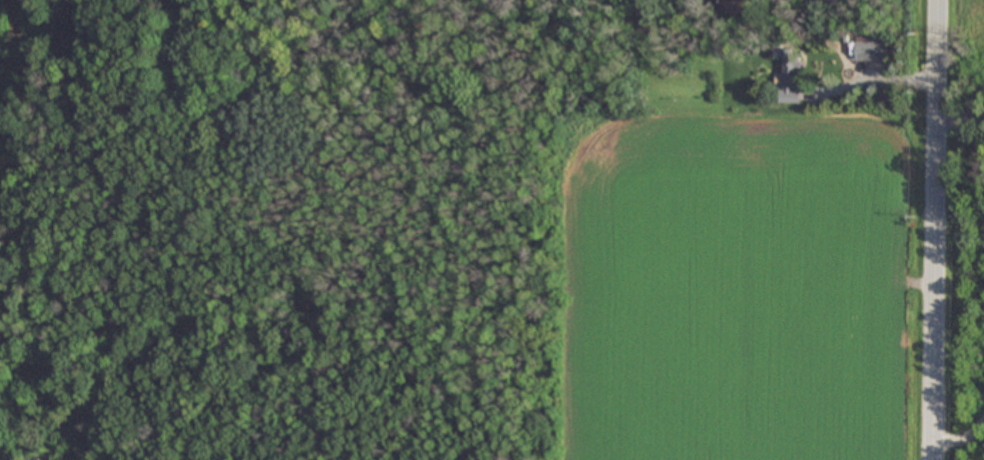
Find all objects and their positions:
building: (736, 5)
building: (648, 14)
building: (867, 48)
road: (871, 75)
building: (789, 76)
road: (961, 127)
road: (937, 230)

